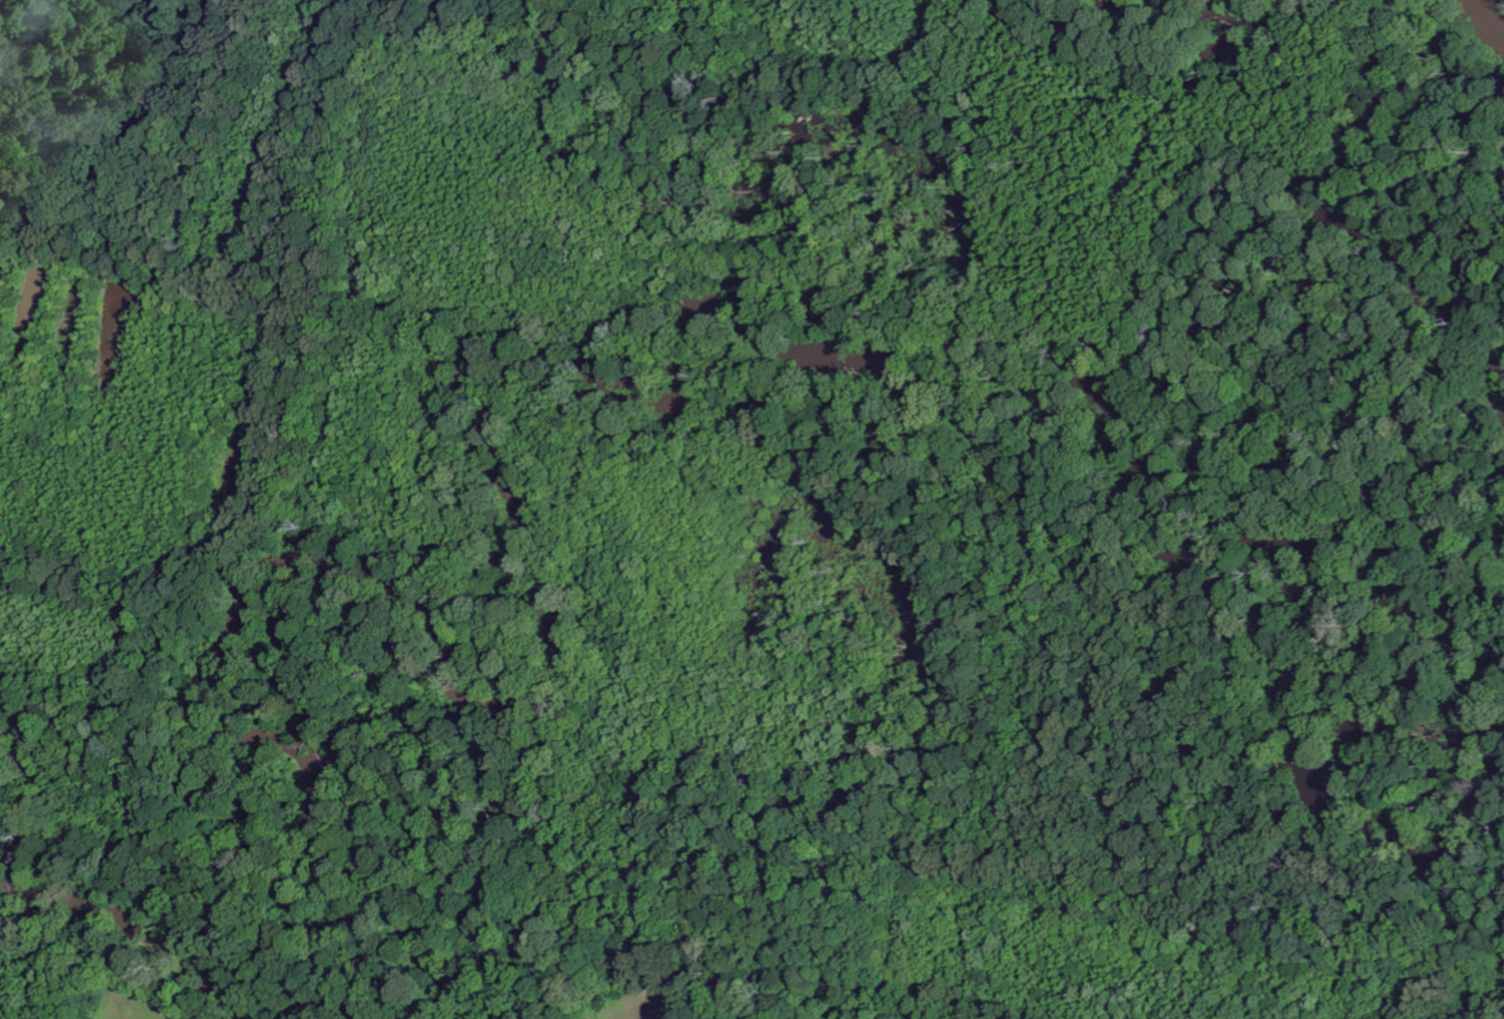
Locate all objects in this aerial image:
river: (1489, 14)

